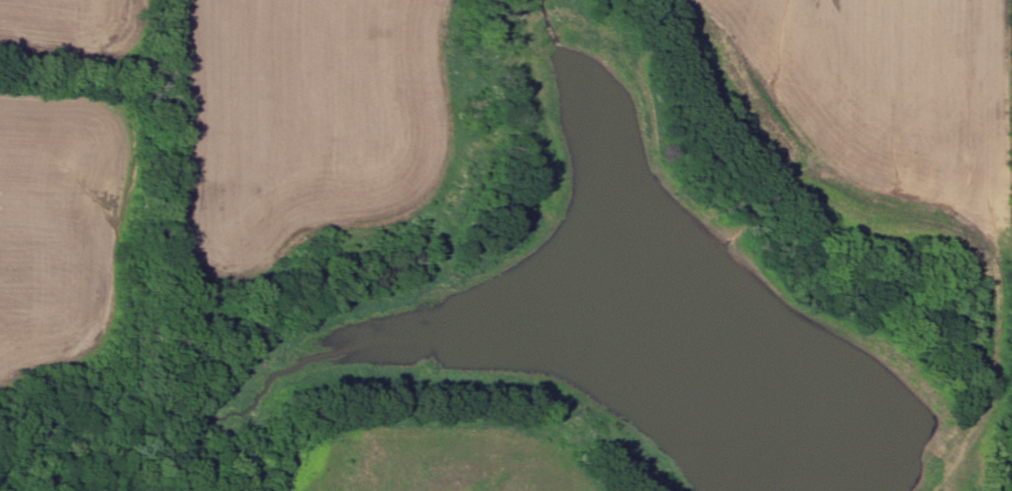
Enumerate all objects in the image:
crop: (69, 29)
crop: (868, 111)
crop: (308, 130)
crop: (57, 223)

